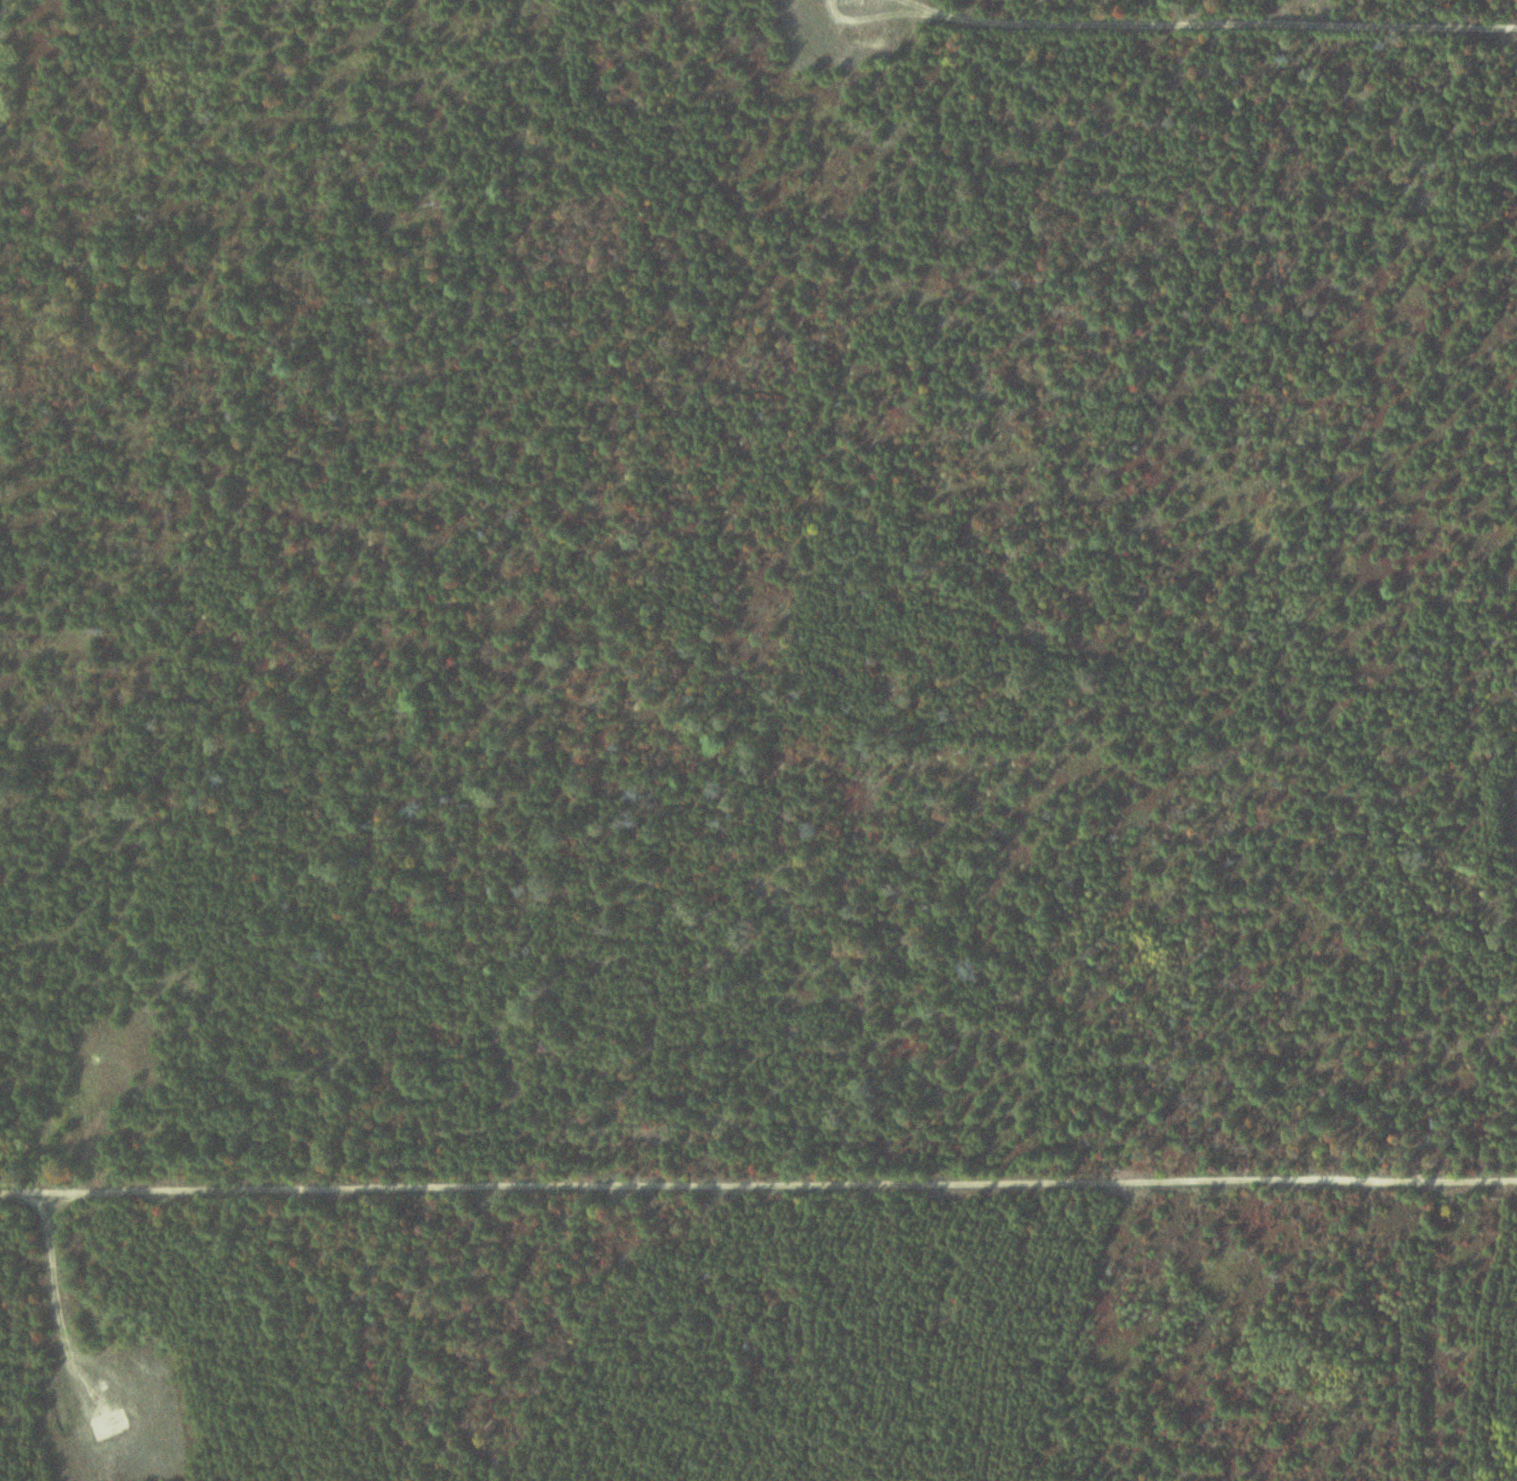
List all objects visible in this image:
road: (8, 21)
road: (1217, 26)
road: (26, 1193)
road: (785, 1193)

